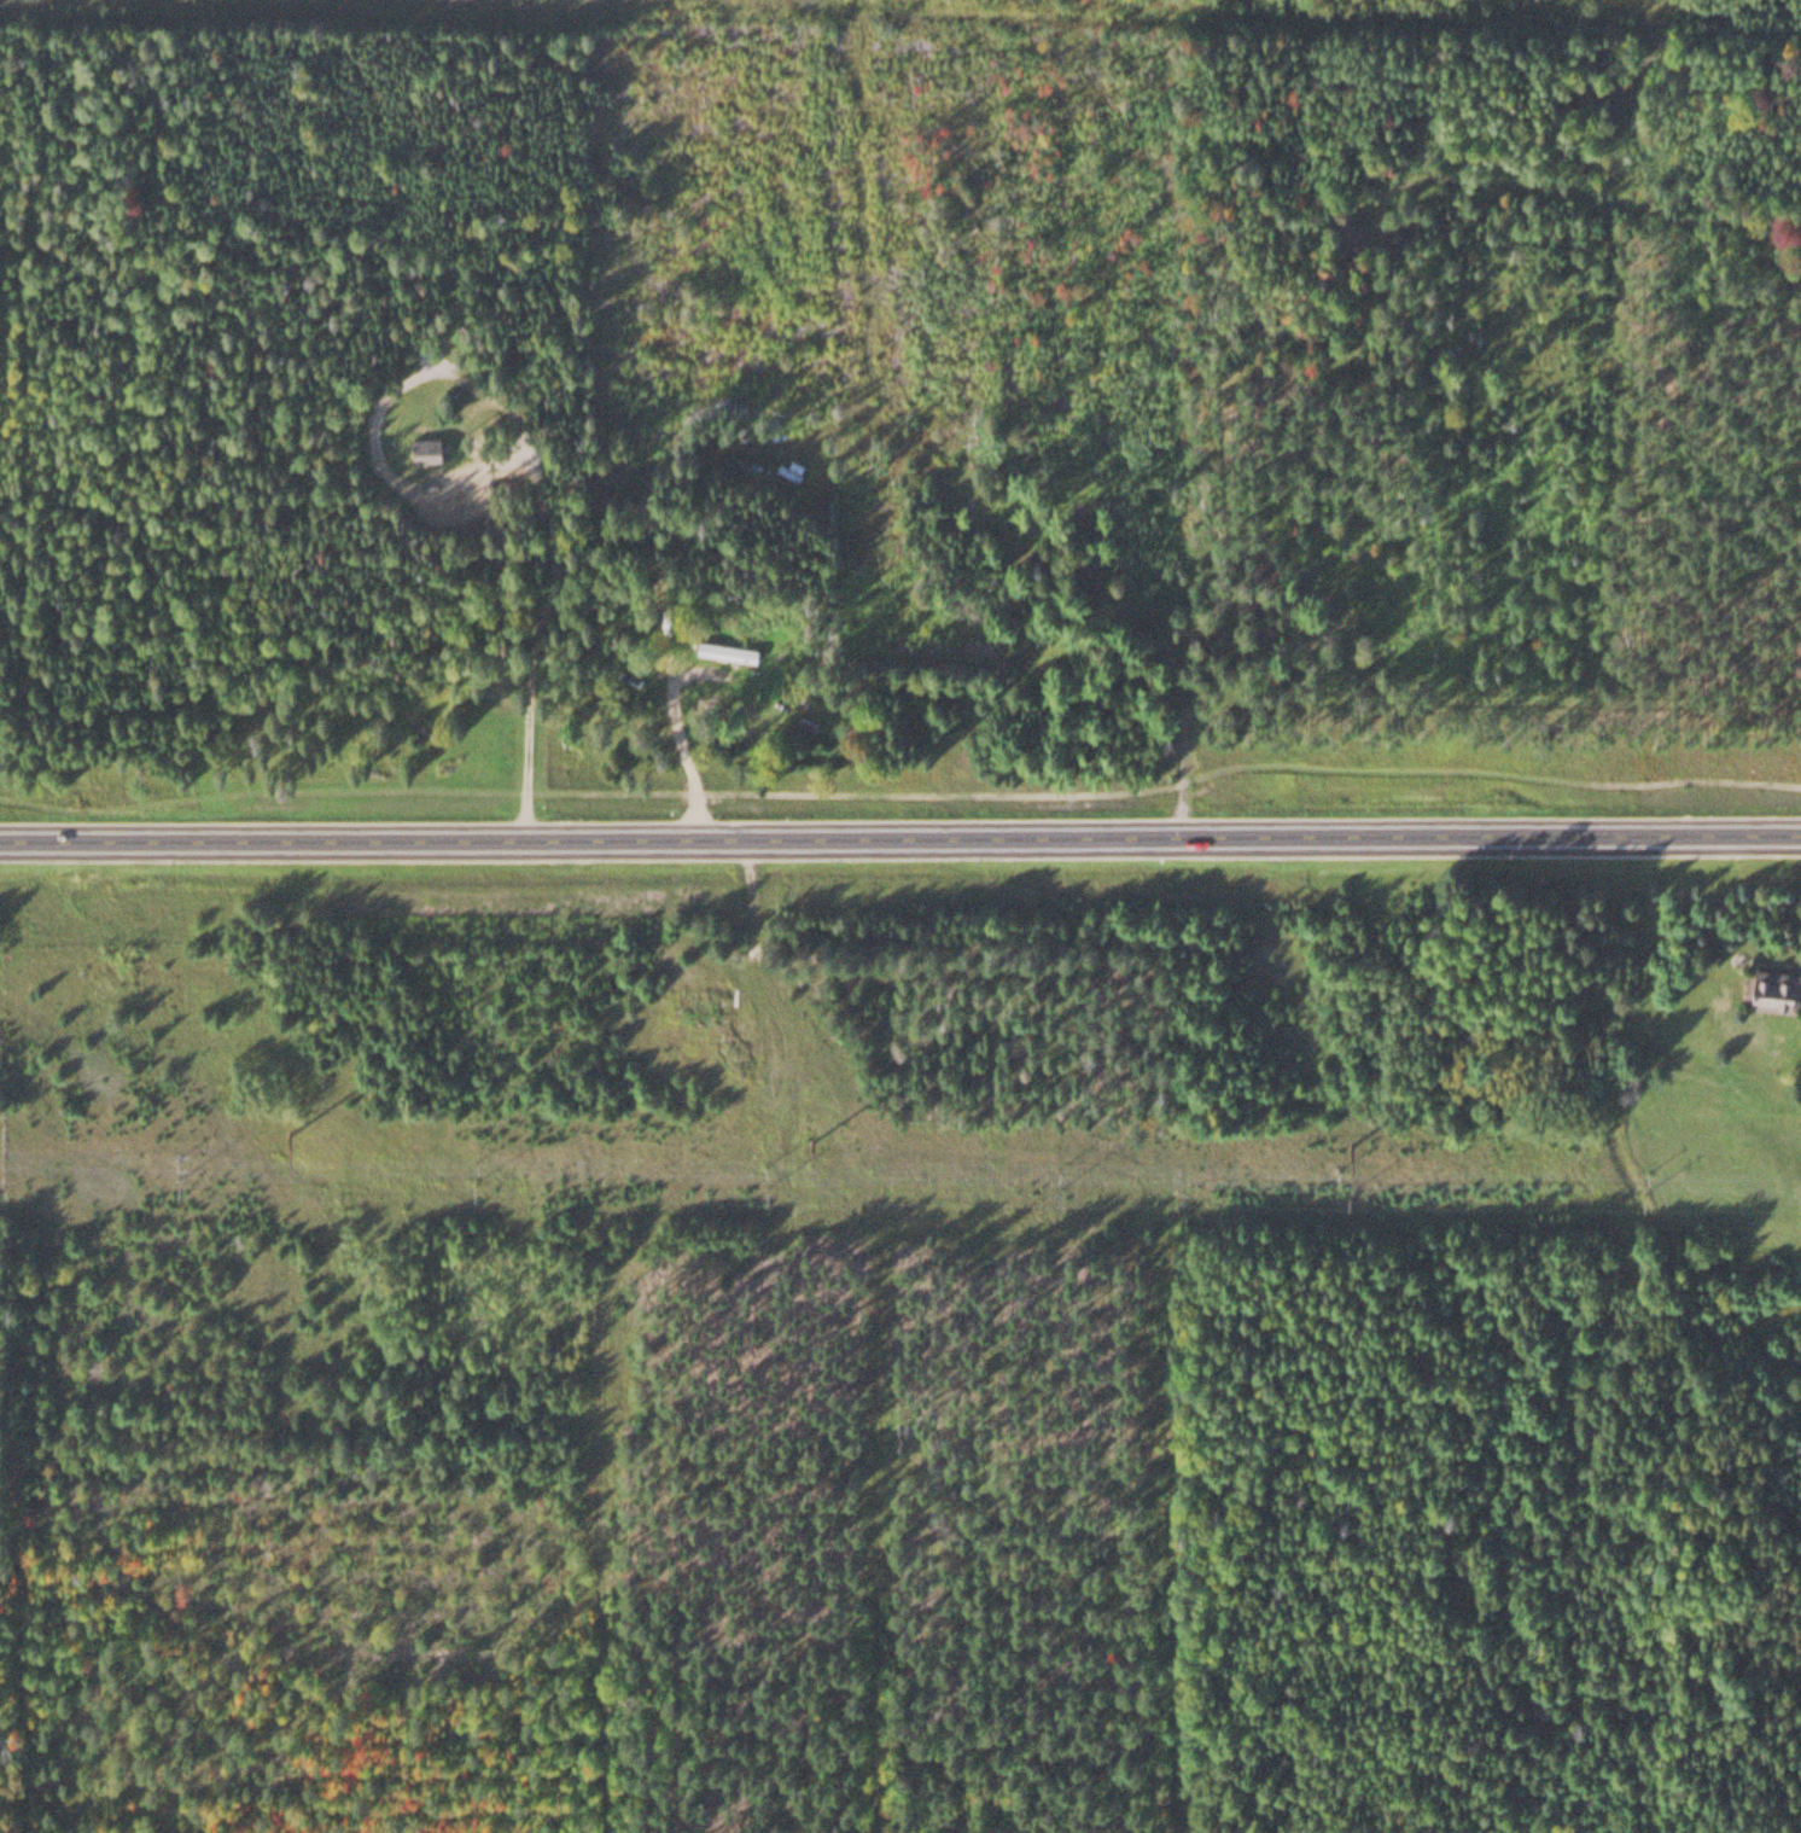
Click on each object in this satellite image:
building: (419, 447)
road: (900, 837)
building: (1766, 988)
building: (1800, 1034)
power tower: (285, 1130)
power tower: (810, 1137)
power tower: (1348, 1144)

